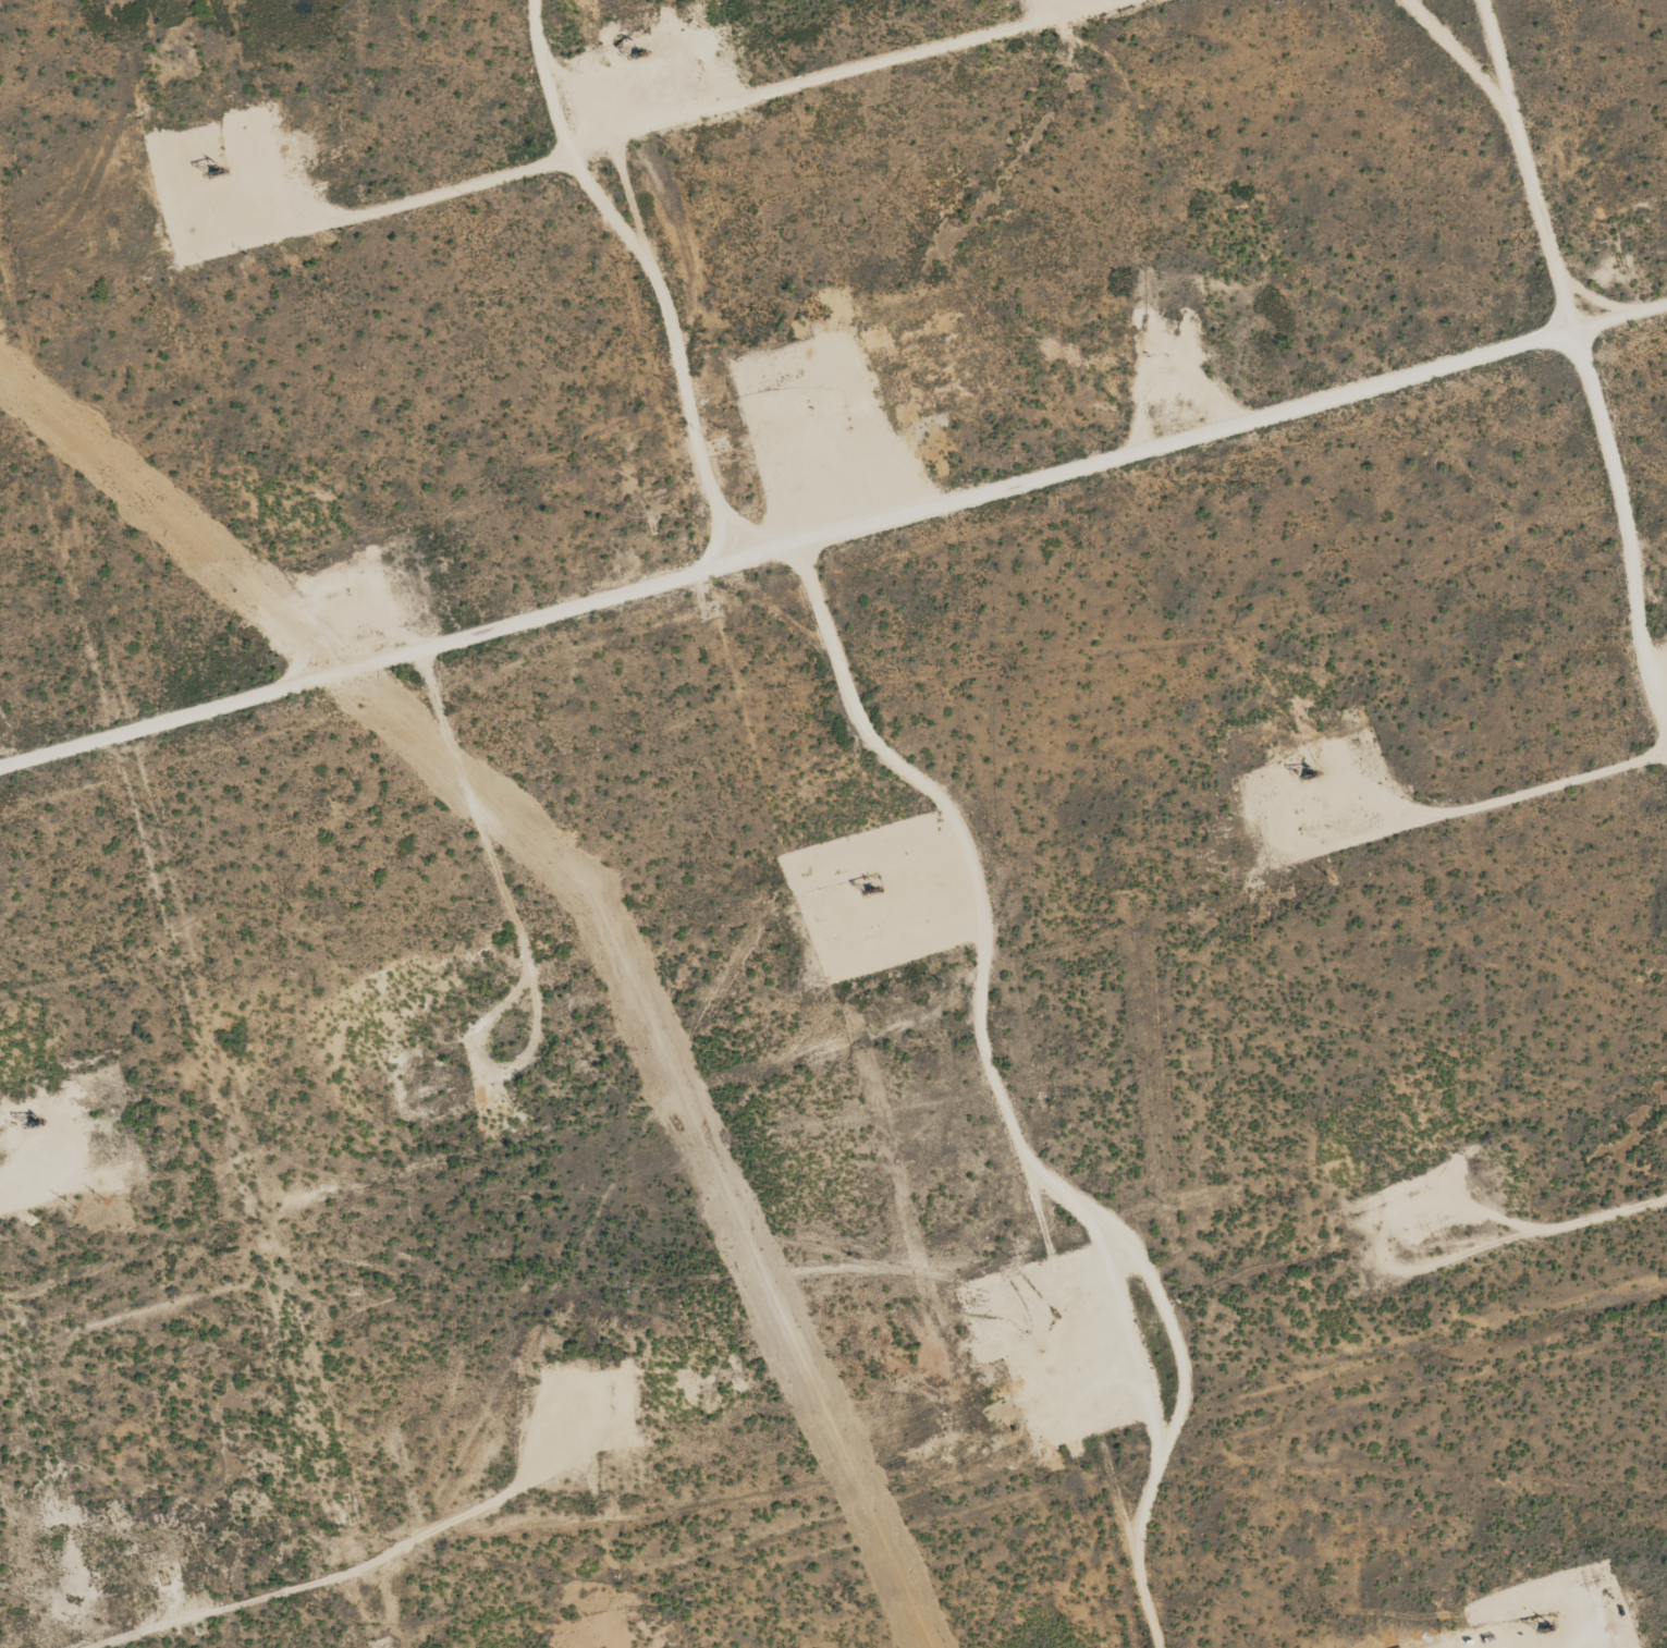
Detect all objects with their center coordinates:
petroleum well: (642, 59)
petroleum well: (220, 166)
road: (653, 268)
road: (1578, 353)
road: (1235, 419)
road: (849, 709)
petroleum well: (1307, 774)
petroleum well: (870, 890)
petroleum well: (448, 1030)
petroleum well: (37, 1128)
road: (318, 1594)

